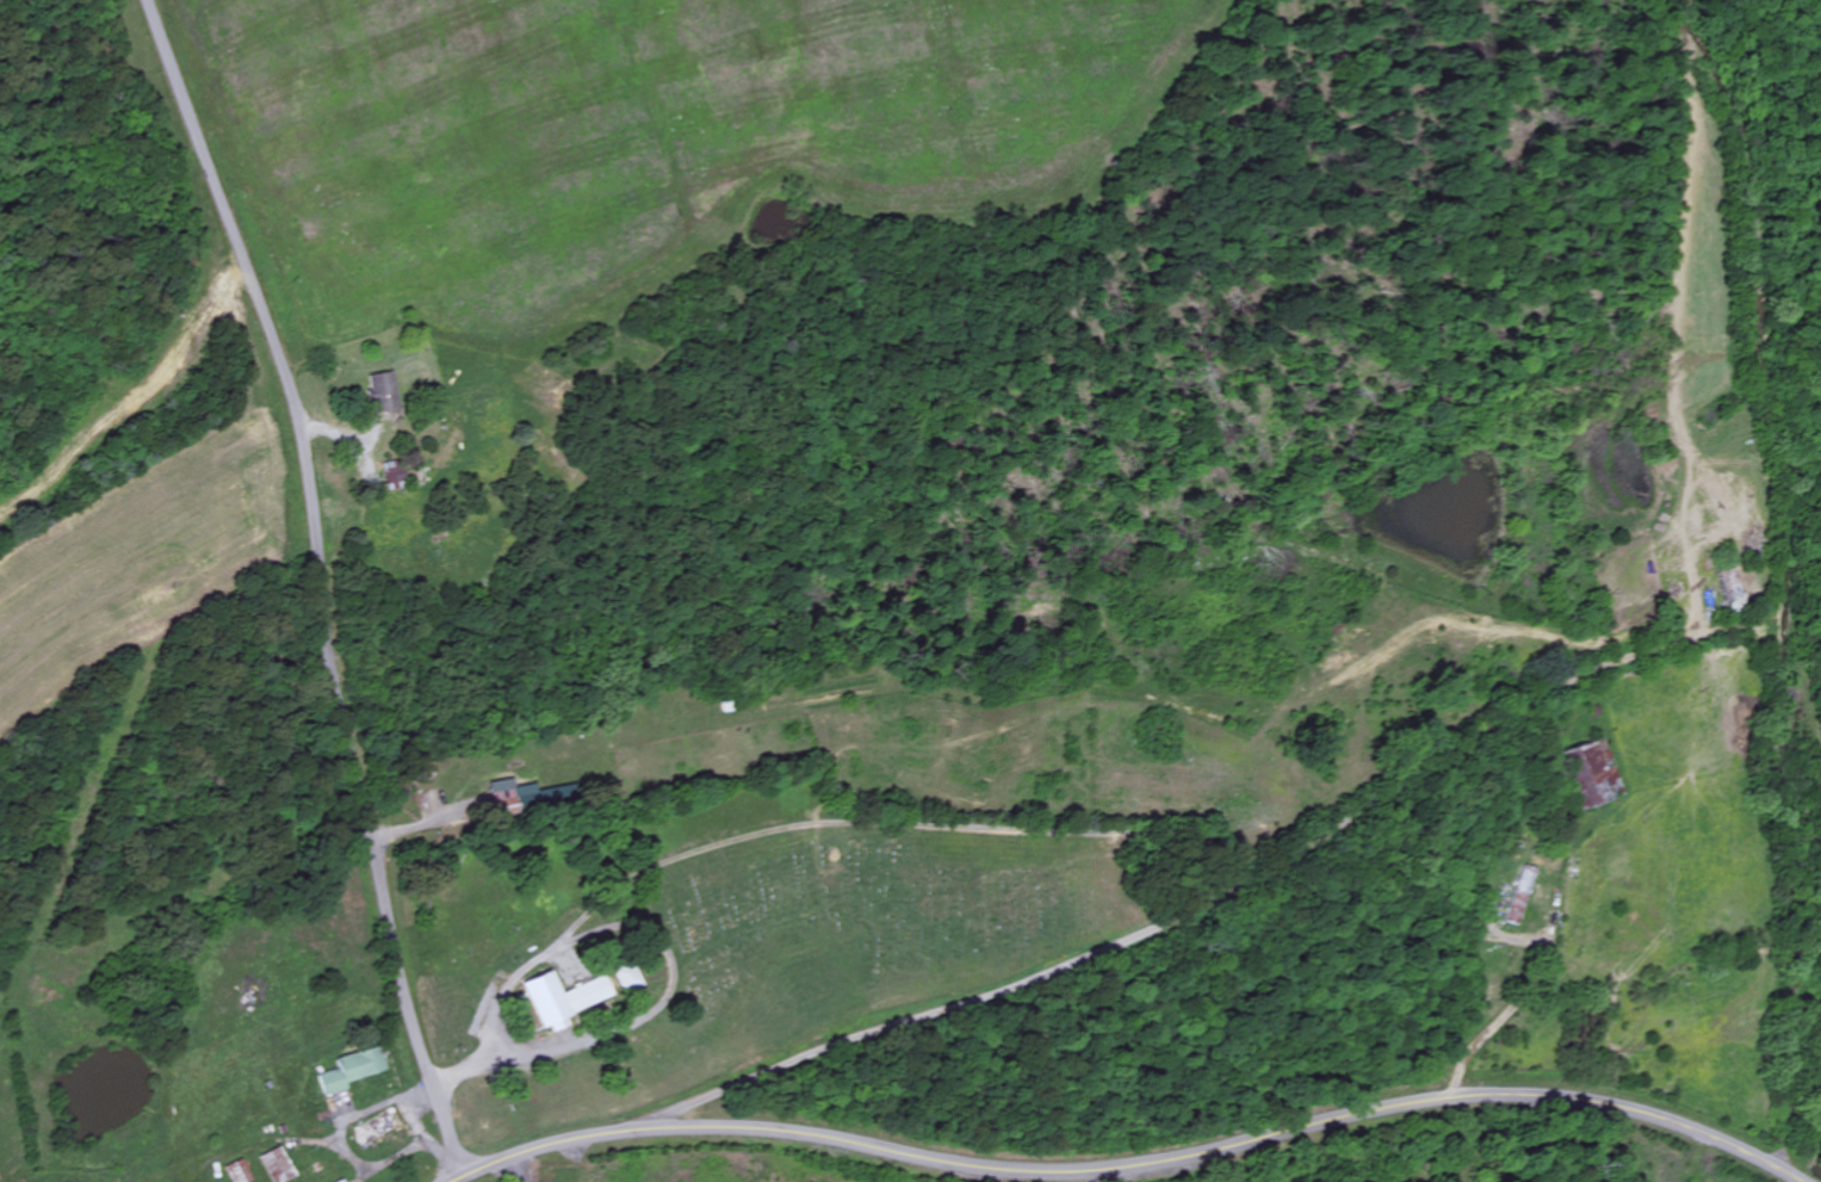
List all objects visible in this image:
road: (1798, 89)
building: (384, 394)
road: (320, 584)
building: (512, 794)
road: (869, 822)
park: (869, 932)
road: (981, 996)
building: (562, 1000)
road: (466, 1056)
building: (352, 1071)
road: (1135, 1164)
building: (275, 1165)
road: (520, 1169)
building: (237, 1172)
building: (342, 1181)

